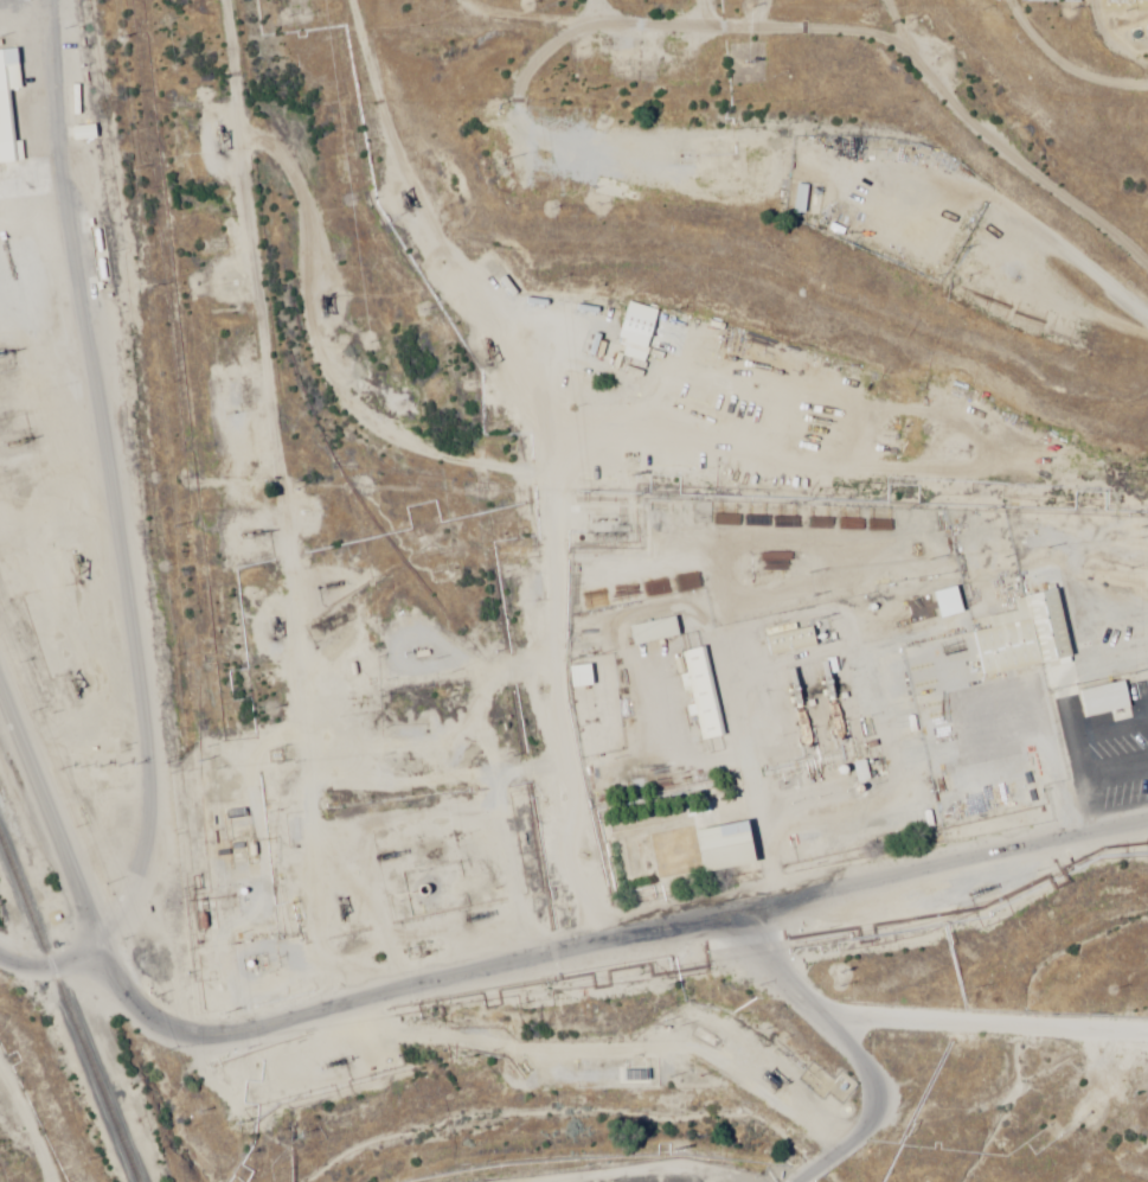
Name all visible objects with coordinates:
road: (605, 9)
road: (753, 9)
road: (995, 15)
road: (945, 32)
building: (7, 94)
road: (637, 121)
building: (82, 133)
building: (567, 179)
road: (971, 196)
building: (799, 199)
building: (636, 331)
road: (505, 465)
road: (128, 498)
road: (214, 499)
building: (947, 603)
building: (652, 632)
building: (1020, 635)
building: (699, 694)
building: (1103, 699)
building: (723, 849)
road: (929, 926)
road: (457, 964)
road: (63, 982)
railway: (68, 1014)
road: (788, 1029)
road: (872, 1075)
road: (922, 1118)
road: (502, 1171)

